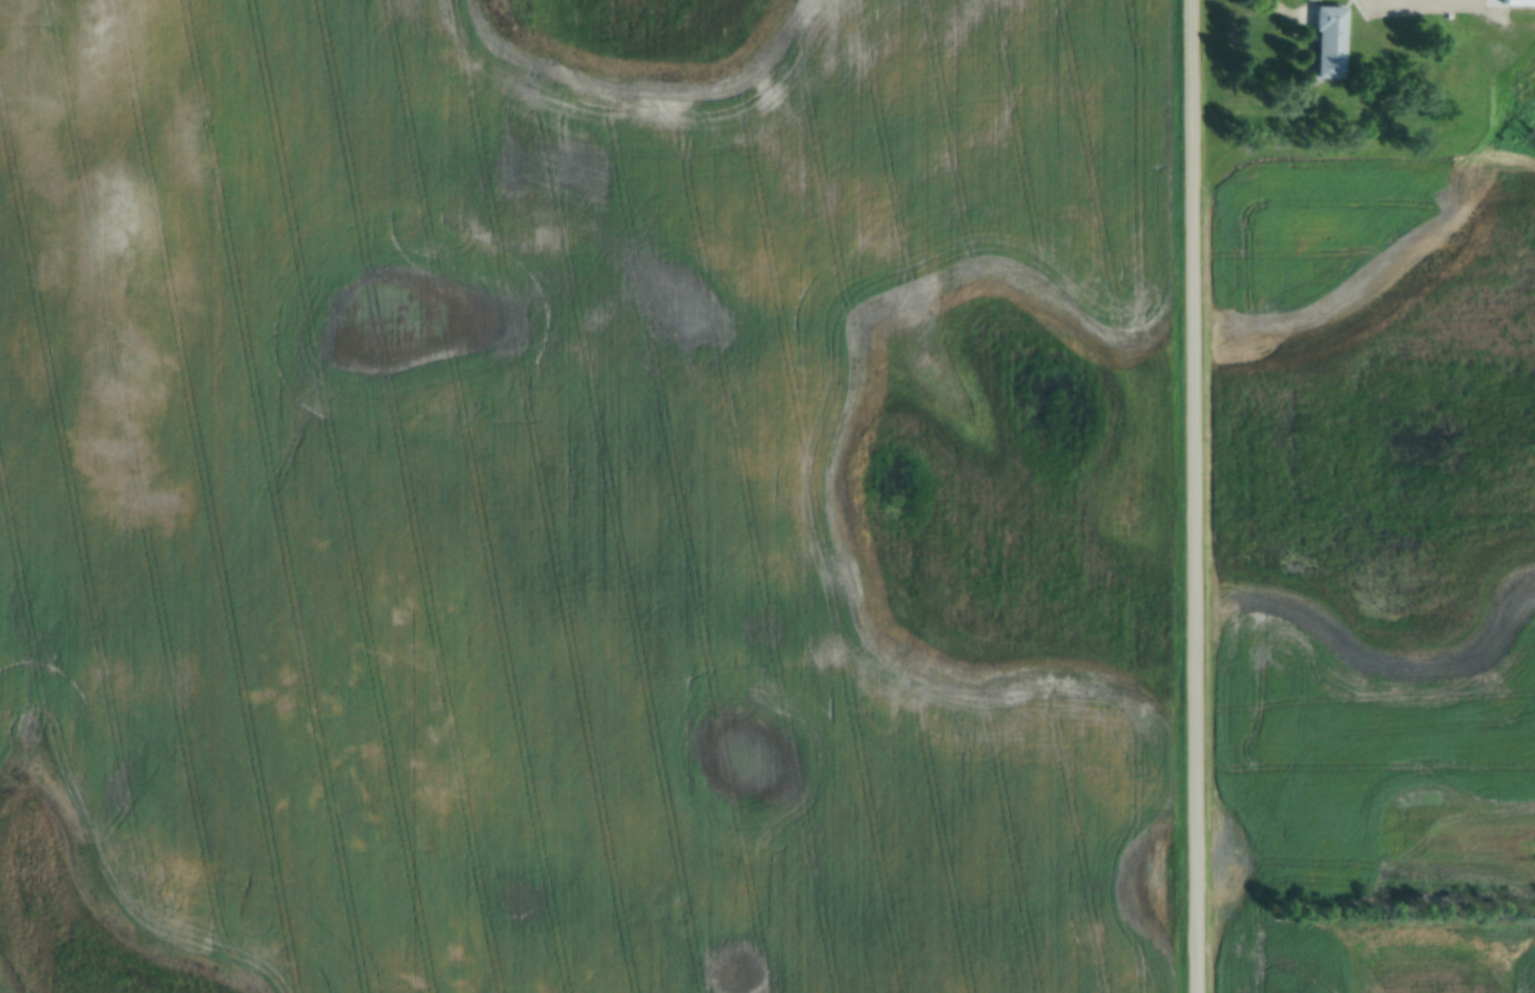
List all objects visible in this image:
building: (1516, 3)
road: (1490, 24)
building: (1450, 35)
building: (1325, 43)
road: (1197, 496)

